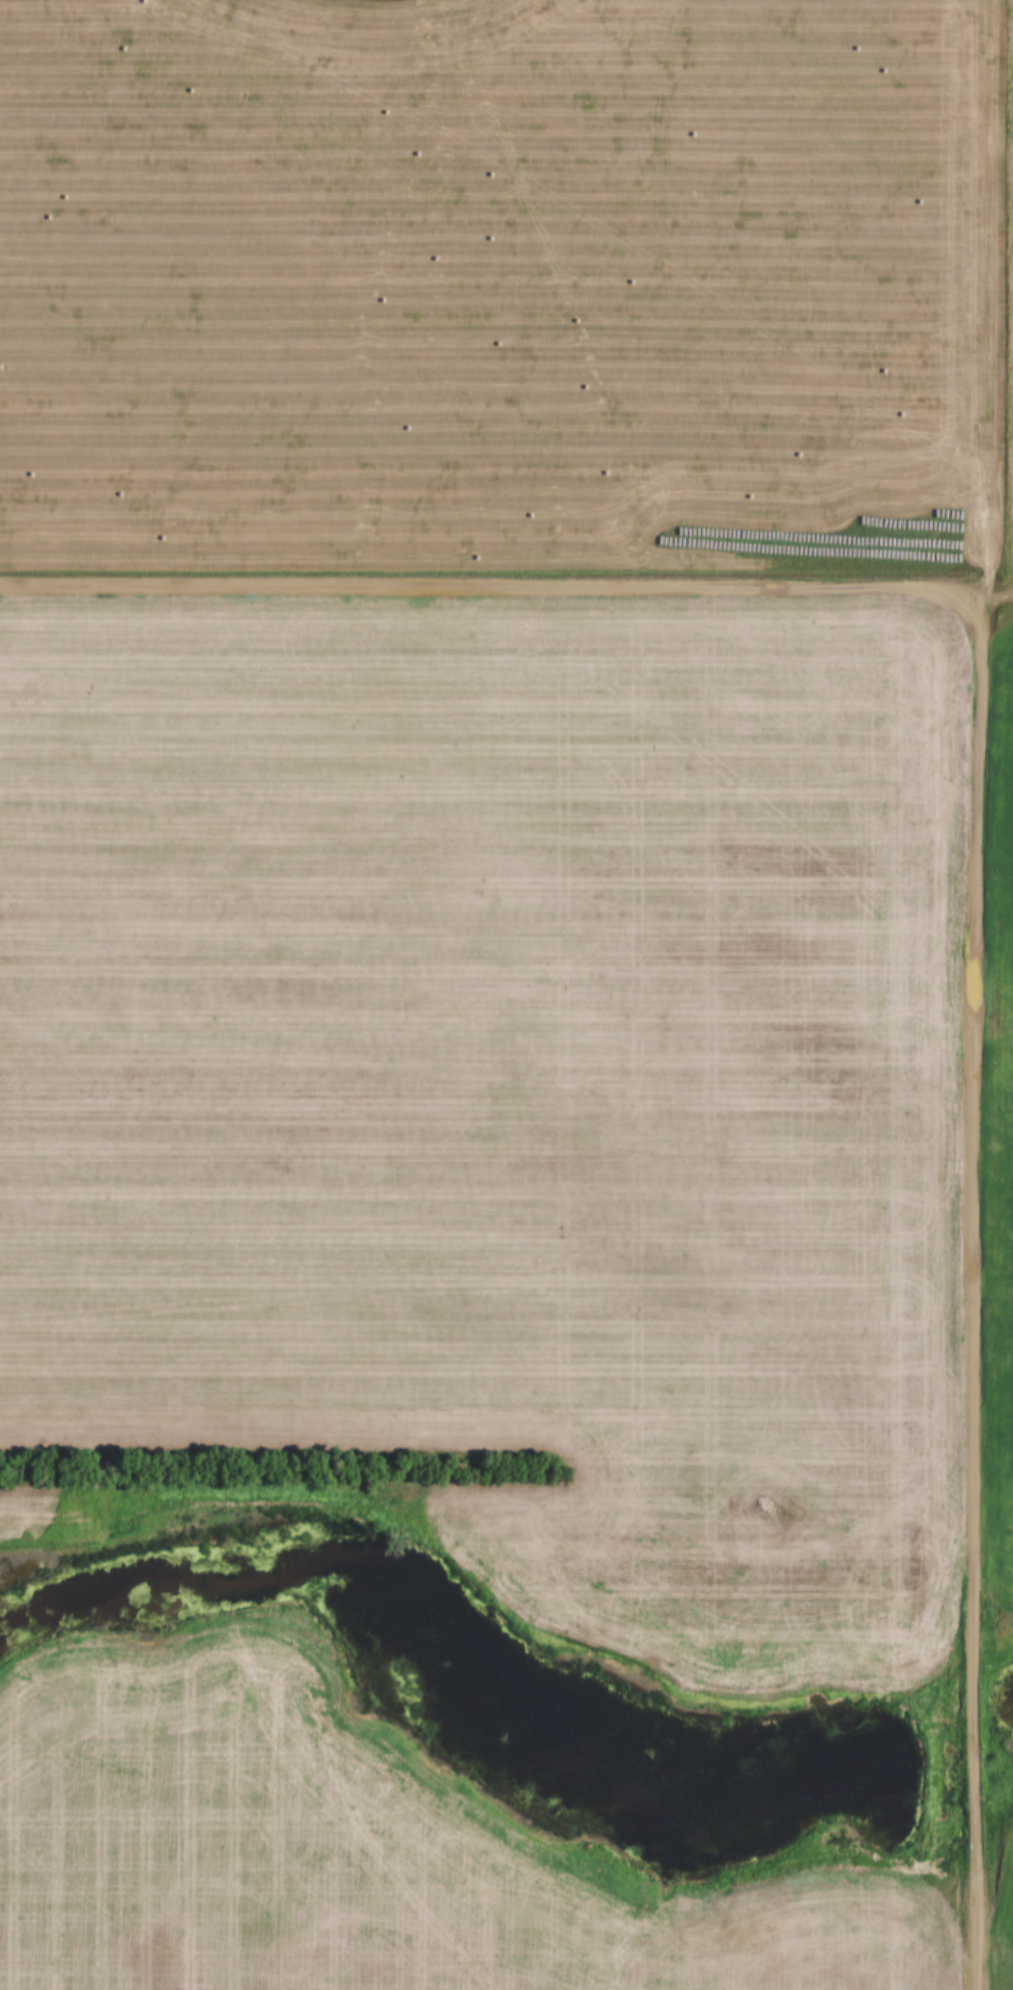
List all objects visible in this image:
road: (506, 575)
road: (972, 1287)

